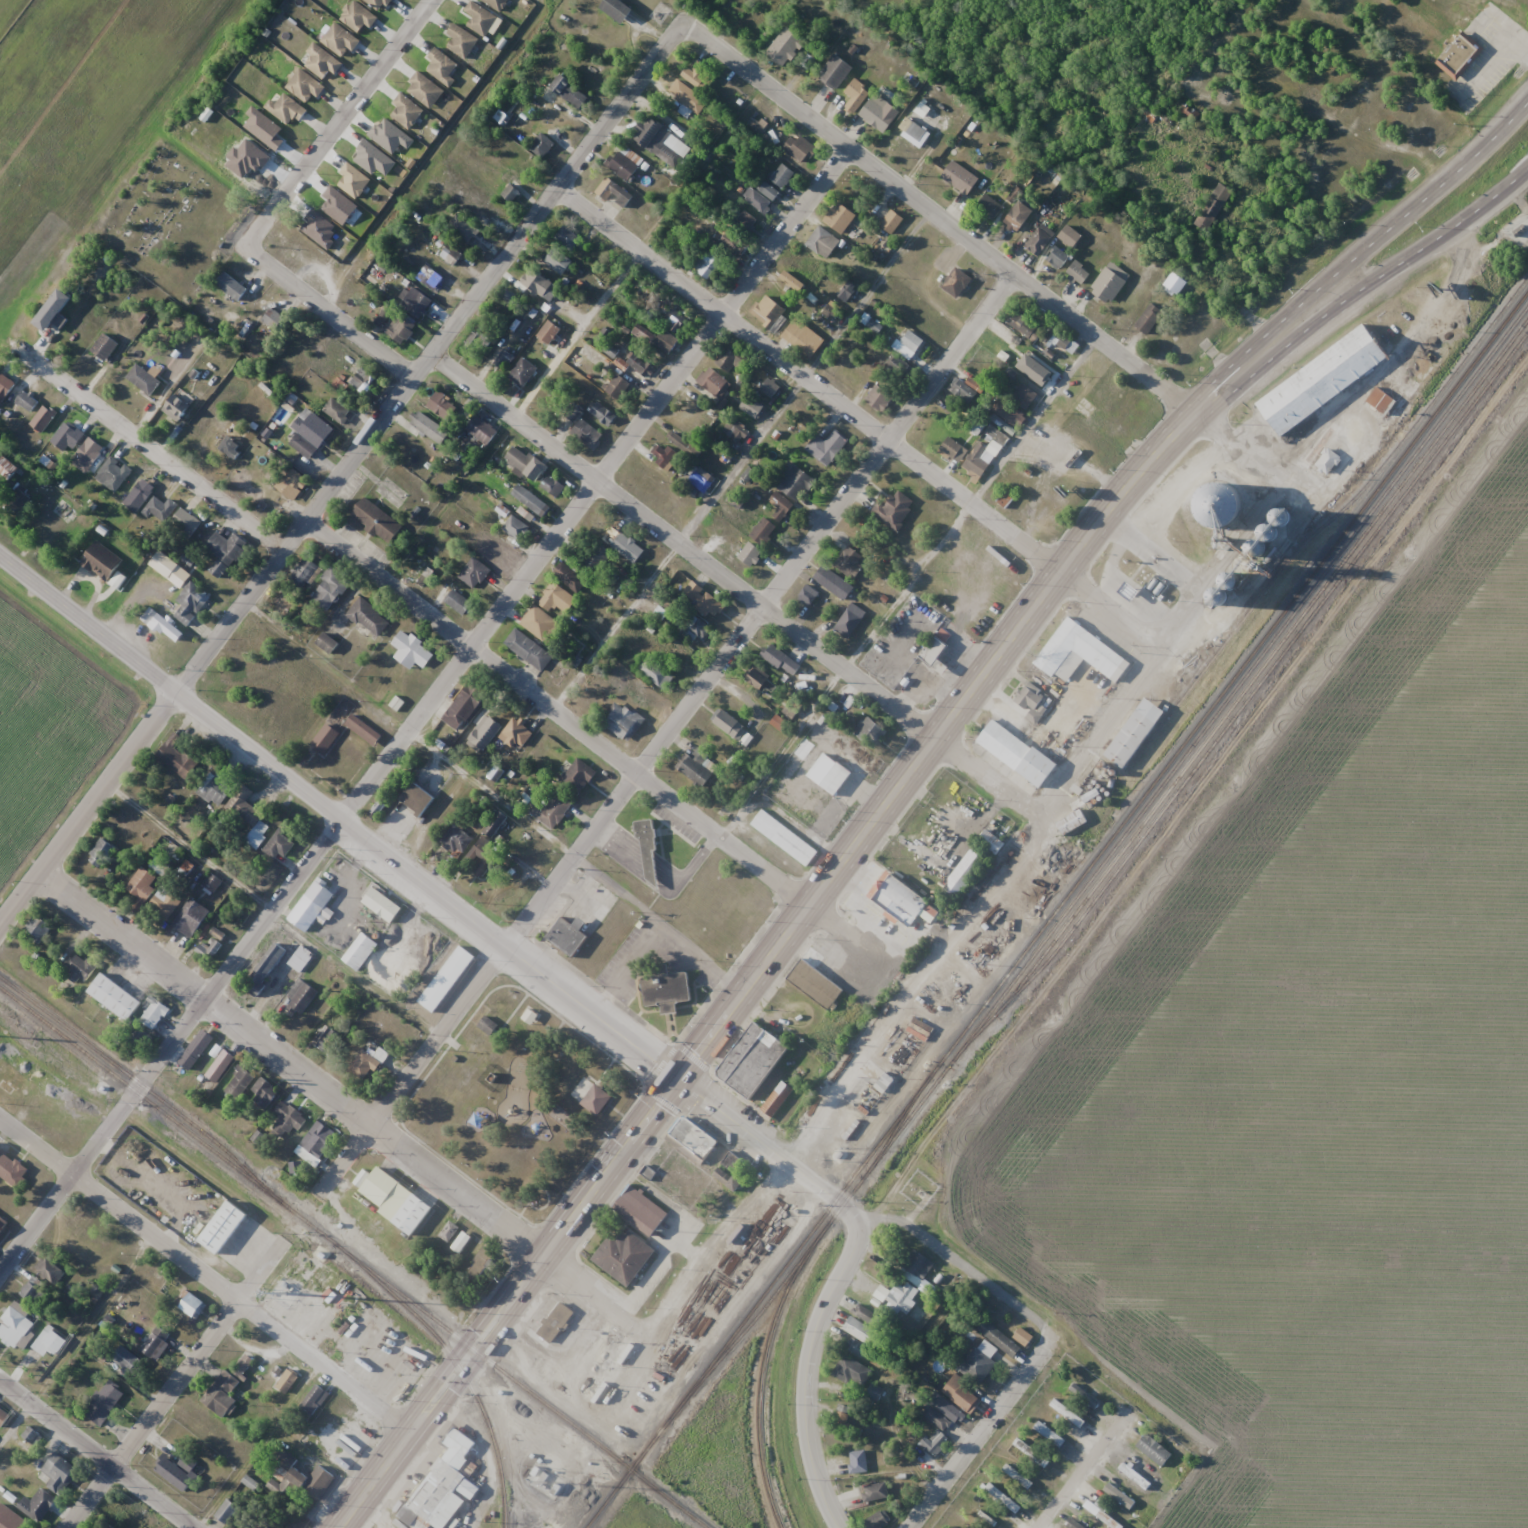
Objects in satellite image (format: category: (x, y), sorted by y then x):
building: (619, 10)
building: (786, 47)
building: (1460, 56)
building: (836, 72)
building: (698, 75)
crop: (71, 92)
building: (570, 92)
building: (688, 97)
building: (858, 99)
building: (877, 114)
road: (342, 120)
building: (663, 143)
building: (542, 146)
building: (374, 158)
building: (626, 163)
building: (782, 176)
building: (960, 178)
building: (768, 191)
building: (615, 193)
road: (1493, 196)
building: (761, 203)
building: (485, 206)
building: (1211, 206)
building: (990, 207)
building: (839, 218)
building: (747, 219)
building: (1014, 221)
building: (892, 222)
park: (170, 224)
building: (464, 228)
building: (570, 237)
building: (1040, 240)
building: (735, 243)
building: (823, 243)
building: (1063, 247)
road: (988, 253)
road: (1356, 254)
building: (451, 255)
building: (560, 263)
building: (707, 264)
building: (1078, 273)
building: (431, 279)
building: (1111, 282)
building: (957, 283)
building: (1175, 283)
building: (543, 287)
building: (234, 289)
building: (420, 303)
road: (331, 308)
building: (55, 312)
building: (769, 312)
road: (1322, 315)
building: (274, 318)
building: (1149, 318)
building: (675, 319)
building: (1024, 326)
building: (404, 333)
building: (552, 333)
building: (602, 335)
building: (479, 337)
building: (803, 339)
building: (912, 341)
building: (1001, 341)
building: (668, 344)
building: (108, 349)
building: (503, 359)
building: (638, 364)
building: (732, 364)
building: (898, 368)
building: (1038, 368)
building: (524, 373)
building: (361, 379)
road: (811, 381)
building: (1325, 381)
building: (147, 382)
building: (715, 383)
building: (5, 385)
building: (617, 387)
building: (772, 389)
building: (963, 392)
building: (1024, 396)
building: (879, 398)
building: (28, 403)
building: (443, 405)
building: (751, 409)
building: (337, 410)
building: (176, 412)
building: (604, 414)
building: (44, 420)
road: (861, 421)
road: (1035, 422)
building: (429, 427)
building: (736, 431)
building: (483, 432)
building: (587, 433)
building: (62, 435)
building: (313, 435)
building: (685, 445)
building: (230, 447)
building: (831, 450)
building: (953, 450)
building: (91, 454)
road: (159, 455)
building: (663, 457)
building: (981, 458)
building: (520, 460)
building: (1327, 462)
building: (4, 471)
building: (541, 471)
building: (115, 477)
road: (340, 478)
building: (702, 479)
building: (289, 484)
building: (798, 484)
building: (555, 487)
building: (17, 499)
building: (531, 501)
building: (155, 504)
building: (781, 507)
building: (1224, 507)
building: (894, 509)
building: (186, 522)
building: (379, 522)
building: (516, 528)
building: (764, 532)
building: (622, 544)
building: (228, 549)
building: (596, 556)
building: (854, 560)
building: (105, 562)
building: (168, 568)
building: (308, 575)
building: (477, 576)
building: (571, 578)
road: (739, 584)
building: (1231, 585)
building: (835, 586)
building: (332, 588)
building: (809, 596)
building: (555, 598)
building: (702, 599)
building: (458, 601)
building: (191, 603)
building: (368, 616)
building: (851, 618)
building: (539, 623)
building: (171, 631)
building: (696, 632)
building: (329, 644)
building: (528, 649)
building: (934, 652)
building: (413, 653)
building: (1079, 653)
building: (779, 658)
building: (655, 671)
railway: (1266, 671)
building: (757, 676)
building: (1030, 696)
railway: (1239, 696)
road: (696, 702)
building: (790, 710)
road: (419, 712)
building: (464, 713)
building: (622, 720)
building: (1062, 721)
building: (729, 725)
crop: (47, 728)
building: (365, 731)
building: (870, 731)
building: (516, 733)
building: (486, 734)
building: (1135, 736)
building: (327, 738)
building: (1005, 748)
road: (612, 756)
building: (176, 757)
building: (694, 767)
building: (582, 774)
building: (831, 775)
building: (215, 789)
building: (418, 801)
building: (244, 807)
building: (550, 809)
road: (333, 817)
building: (921, 820)
building: (1071, 822)
building: (495, 823)
building: (255, 838)
building: (785, 839)
building: (461, 843)
building: (279, 844)
railway: (1114, 847)
building: (102, 851)
road: (842, 855)
building: (482, 857)
building: (920, 863)
building: (159, 865)
building: (211, 882)
building: (141, 883)
building: (899, 896)
building: (164, 904)
railway: (1055, 908)
building: (312, 909)
building: (190, 917)
building: (391, 917)
building: (38, 928)
building: (569, 938)
building: (211, 943)
building: (360, 953)
building: (300, 958)
building: (79, 967)
building: (265, 968)
building: (448, 981)
building: (816, 986)
building: (669, 994)
building: (301, 997)
building: (116, 999)
building: (154, 1014)
building: (110, 1023)
building: (487, 1025)
building: (138, 1033)
building: (326, 1039)
building: (194, 1052)
building: (369, 1055)
building: (754, 1061)
building: (219, 1066)
building: (241, 1080)
railway: (146, 1089)
crop: (1319, 1090)
building: (263, 1092)
park: (517, 1100)
building: (779, 1101)
building: (597, 1102)
road: (345, 1105)
building: (286, 1119)
railway: (887, 1137)
building: (693, 1139)
building: (315, 1142)
road: (769, 1143)
building: (11, 1169)
building: (727, 1179)
building: (381, 1187)
road: (302, 1211)
building: (411, 1214)
building: (642, 1214)
building: (79, 1219)
building: (2, 1222)
building: (224, 1227)
building: (448, 1231)
building: (460, 1242)
building: (624, 1255)
railway: (354, 1257)
building: (476, 1263)
building: (917, 1264)
road: (958, 1265)
building: (49, 1270)
road: (204, 1274)
building: (32, 1289)
building: (902, 1297)
building: (190, 1303)
building: (865, 1314)
building: (555, 1323)
building: (15, 1326)
building: (859, 1330)
building: (999, 1338)
building: (1025, 1338)
building: (50, 1340)
building: (155, 1343)
building: (858, 1349)
road: (449, 1361)
building: (127, 1362)
building: (979, 1363)
road: (808, 1371)
building: (851, 1371)
road: (465, 1373)
railway: (761, 1375)
building: (287, 1380)
railway: (466, 1380)
building: (226, 1386)
building: (874, 1392)
building: (961, 1393)
building: (313, 1401)
building: (105, 1402)
building: (1062, 1411)
building: (841, 1412)
road: (155, 1415)
building: (935, 1418)
road: (979, 1431)
building: (1048, 1435)
building: (933, 1441)
building: (1153, 1450)
road: (97, 1452)
building: (858, 1459)
building: (59, 1472)
building: (176, 1472)
road: (1079, 1473)
building: (1134, 1476)
building: (1017, 1477)
road: (373, 1479)
building: (300, 1481)
building: (440, 1487)
building: (875, 1492)
building: (1119, 1496)
building: (1003, 1499)
building: (38, 1505)
building: (226, 1511)
building: (1101, 1515)
building: (877, 1521)
building: (1072, 1524)
building: (257, 1525)
building: (108, 1527)

